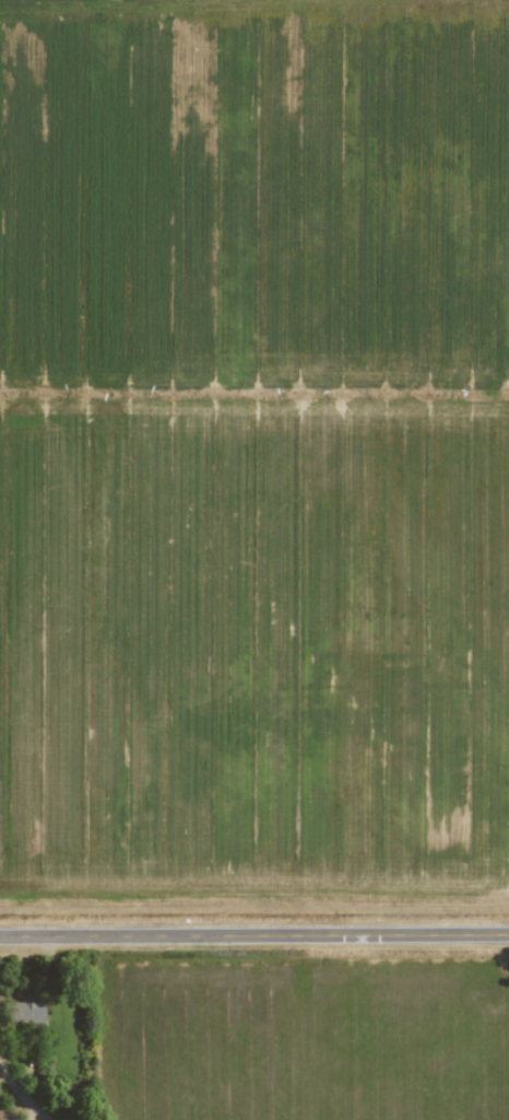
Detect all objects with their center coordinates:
road: (254, 934)
building: (24, 1012)
road: (23, 1090)

